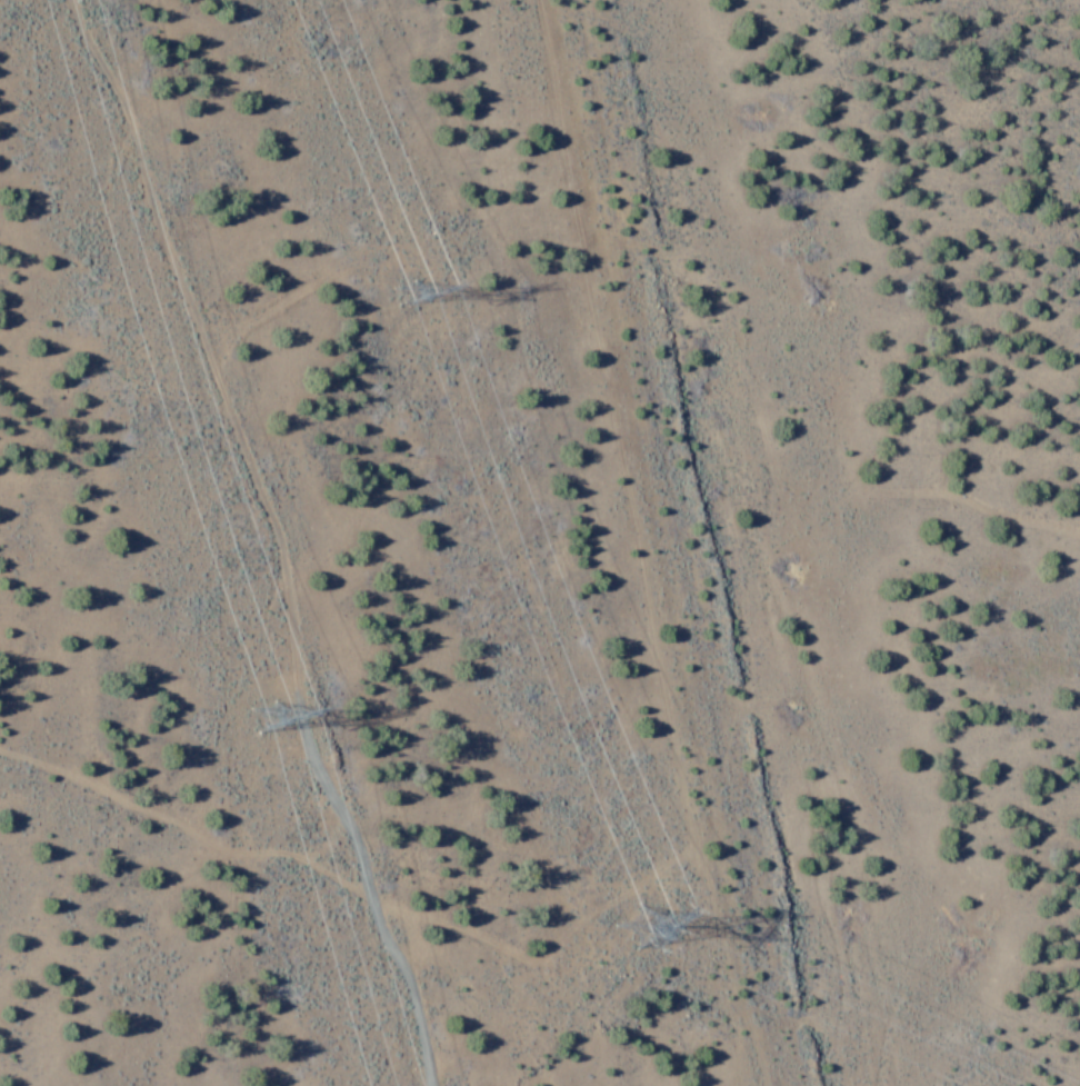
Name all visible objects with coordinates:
power tower: (427, 301)
road: (277, 532)
power tower: (273, 716)
power tower: (610, 930)

